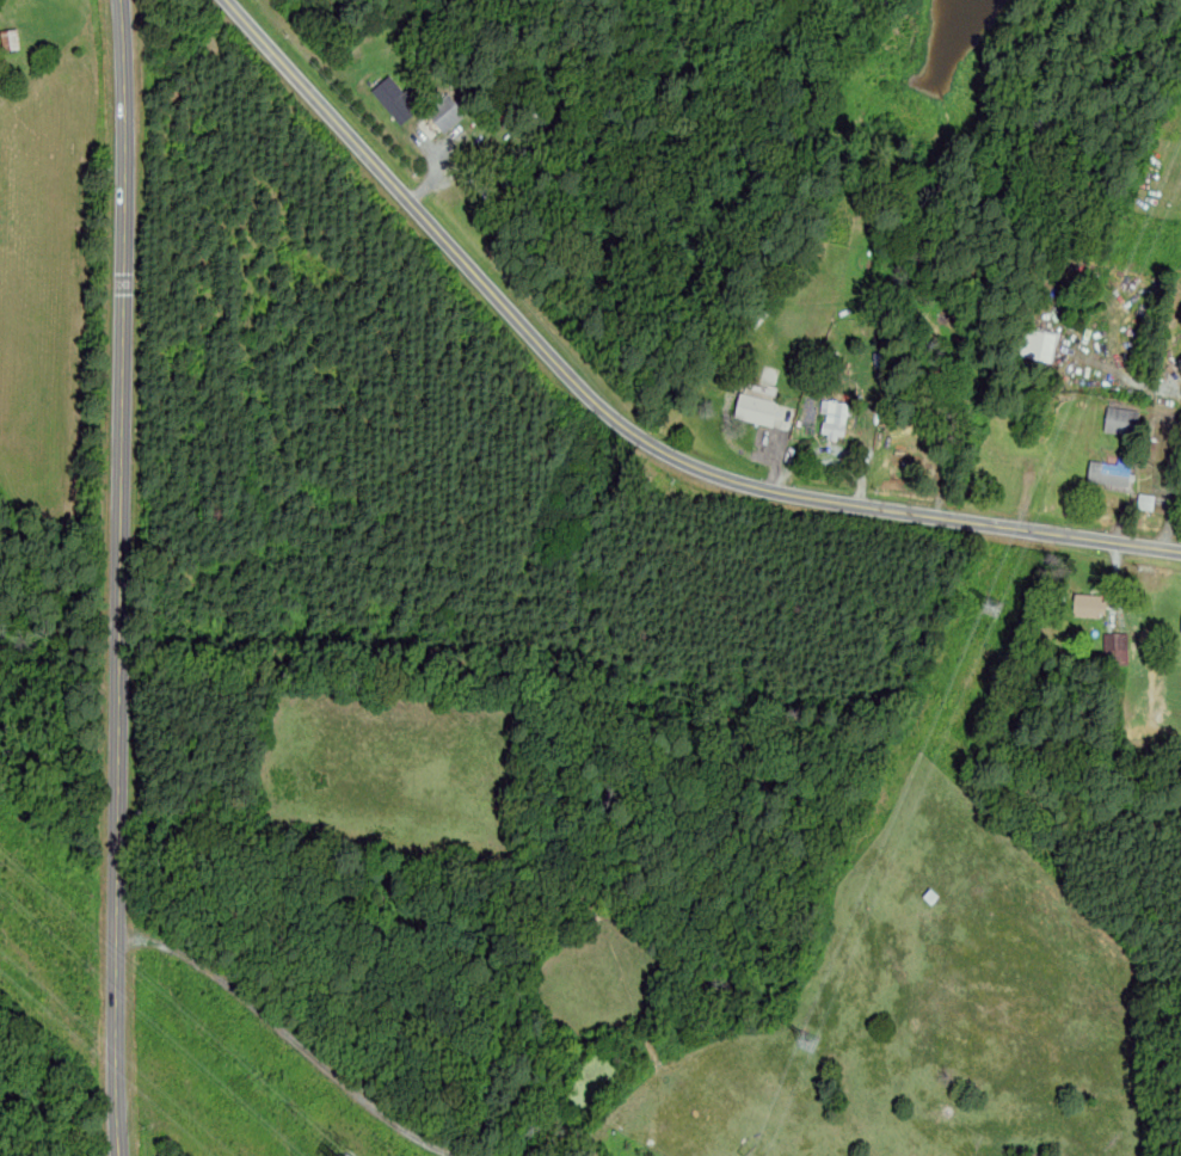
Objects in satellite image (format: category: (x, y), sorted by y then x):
building: (11, 38)
building: (392, 98)
building: (443, 112)
building: (1040, 345)
building: (755, 410)
building: (834, 419)
building: (1119, 420)
road: (621, 424)
building: (1108, 471)
road: (1174, 509)
road: (119, 578)
building: (1087, 605)
power tower: (995, 611)
building: (1180, 628)
building: (1118, 646)
power tower: (810, 1050)

